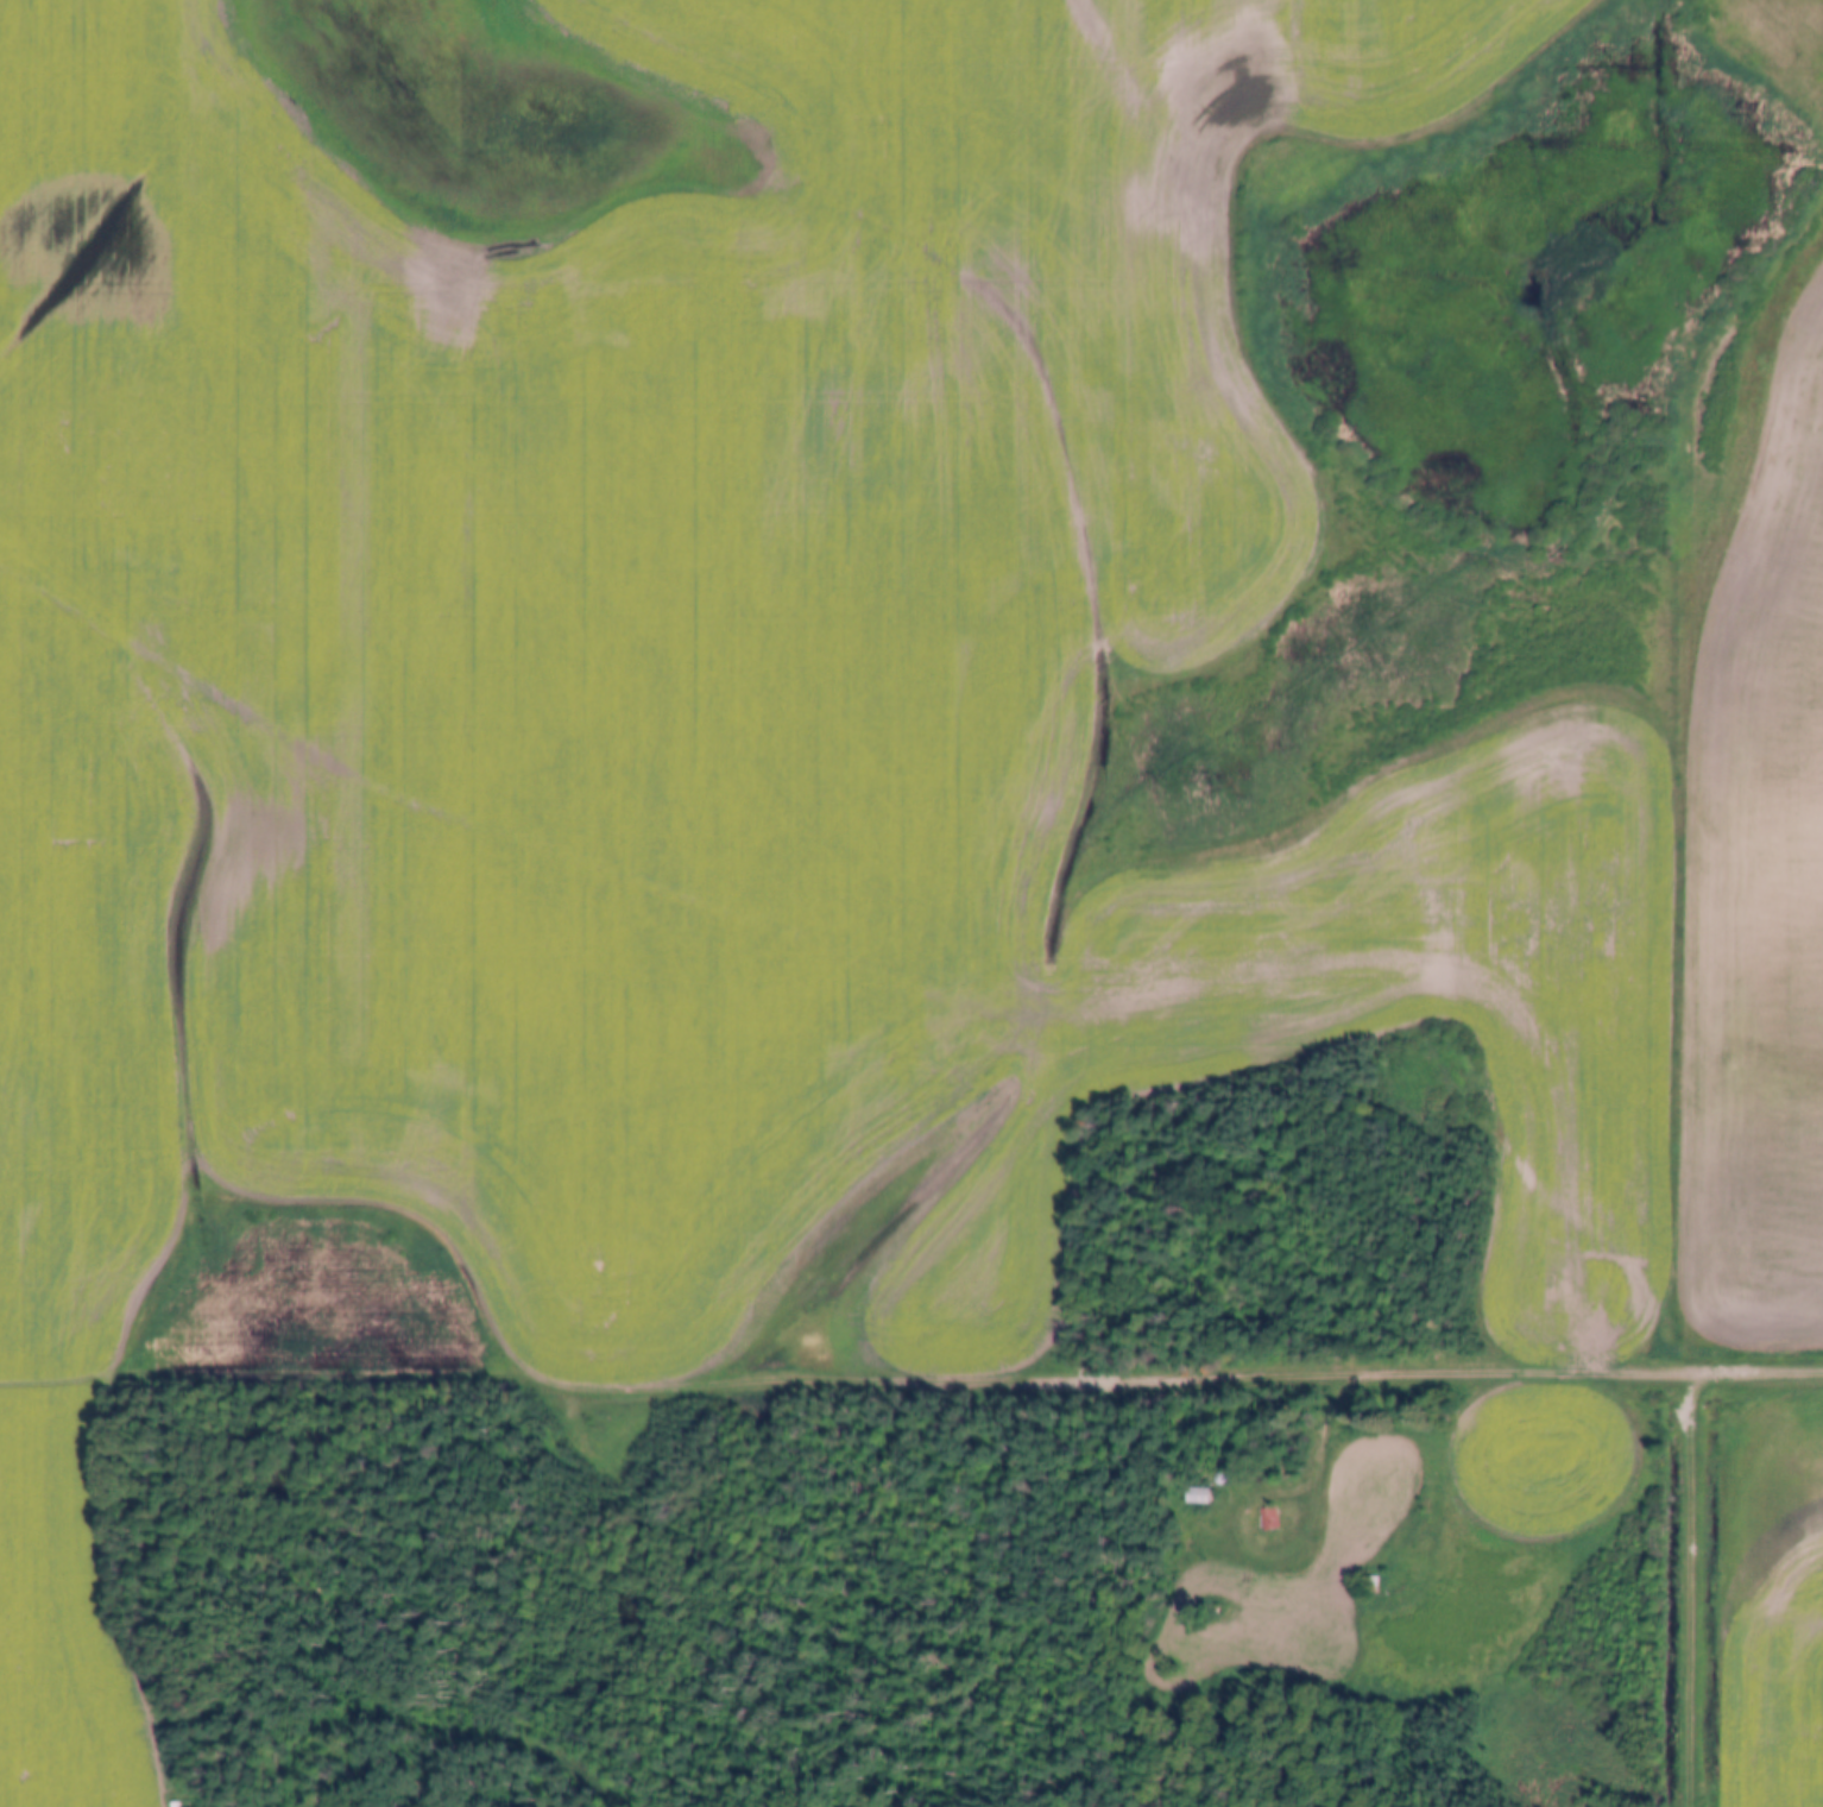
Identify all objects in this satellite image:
road: (1597, 1366)
road: (687, 1372)
road: (1333, 1438)
building: (1224, 1481)
silo: (1224, 1481)
building: (1200, 1499)
building: (1269, 1519)
building: (1371, 1585)
road: (1701, 1587)

